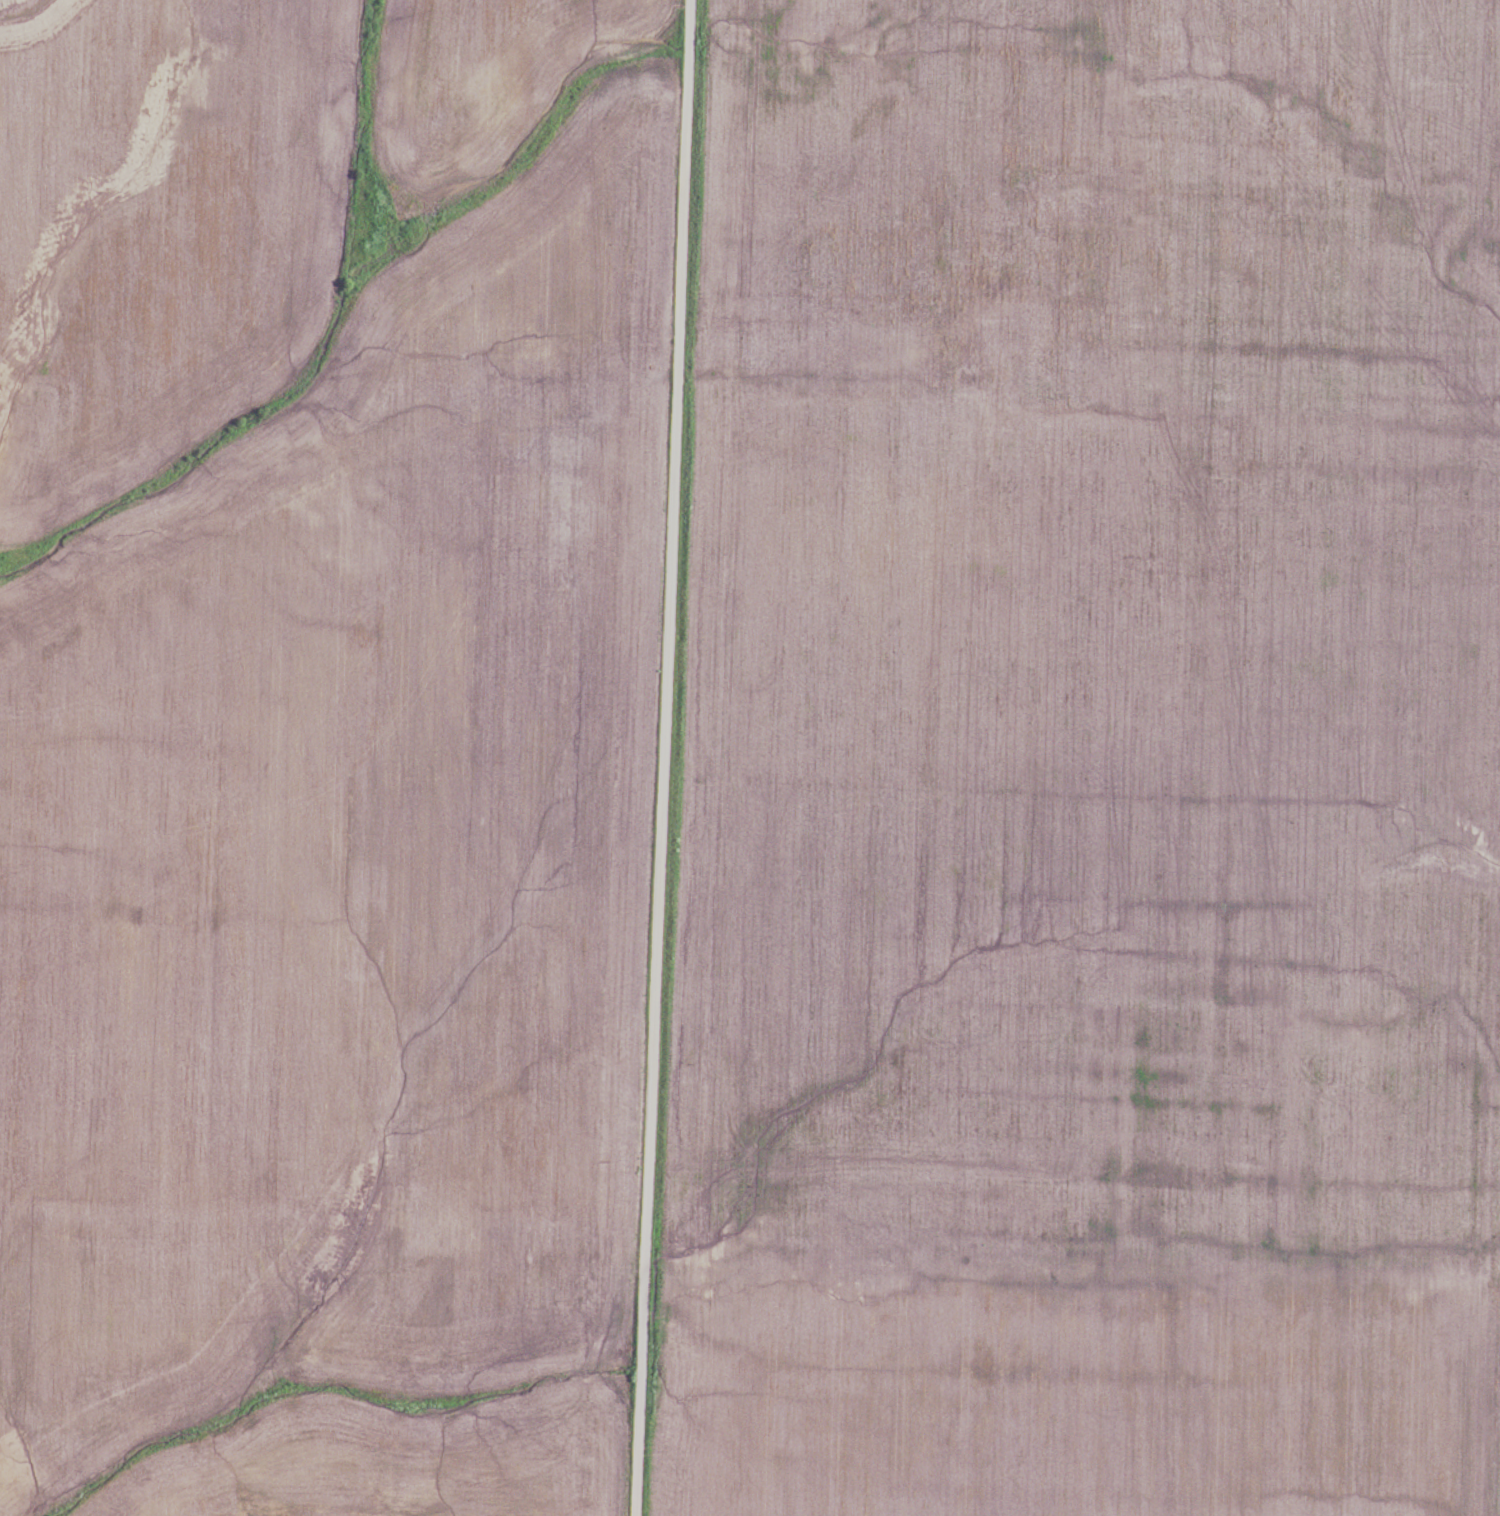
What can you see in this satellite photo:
road: (666, 758)

